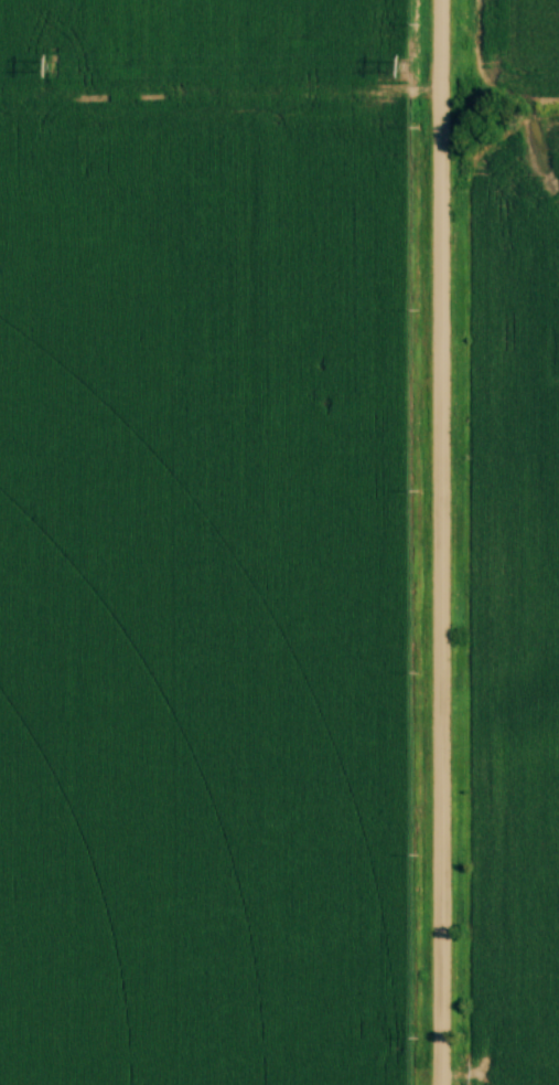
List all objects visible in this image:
power tower: (57, 67)
power tower: (415, 67)
road: (442, 542)

